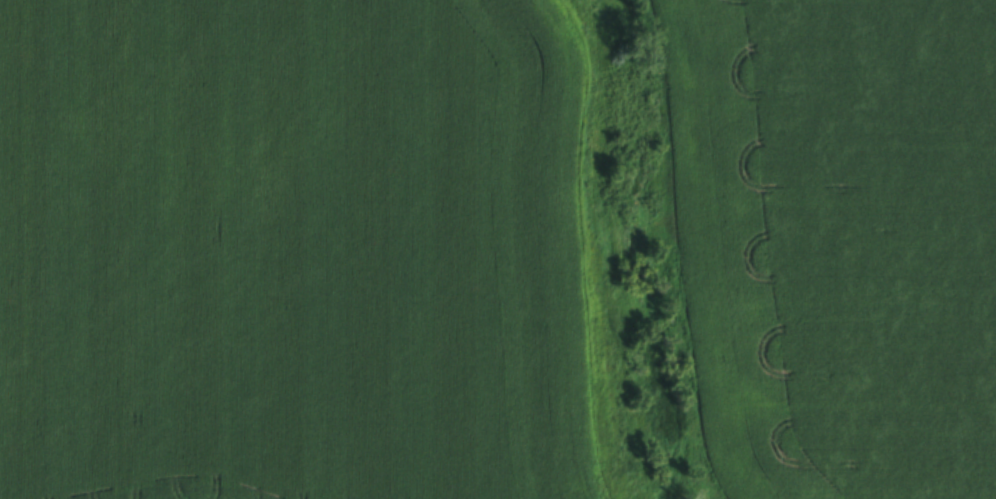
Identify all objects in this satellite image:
crop: (838, 240)

